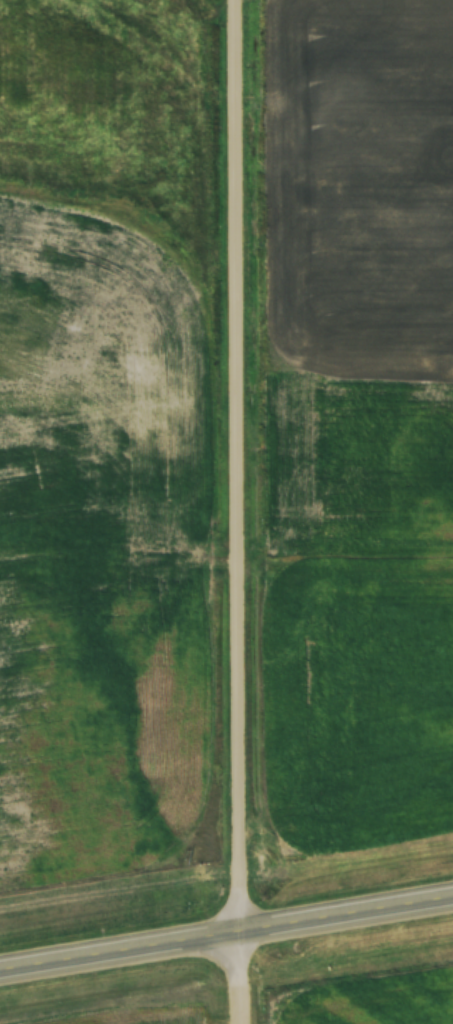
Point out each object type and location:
road: (236, 512)
road: (226, 931)

